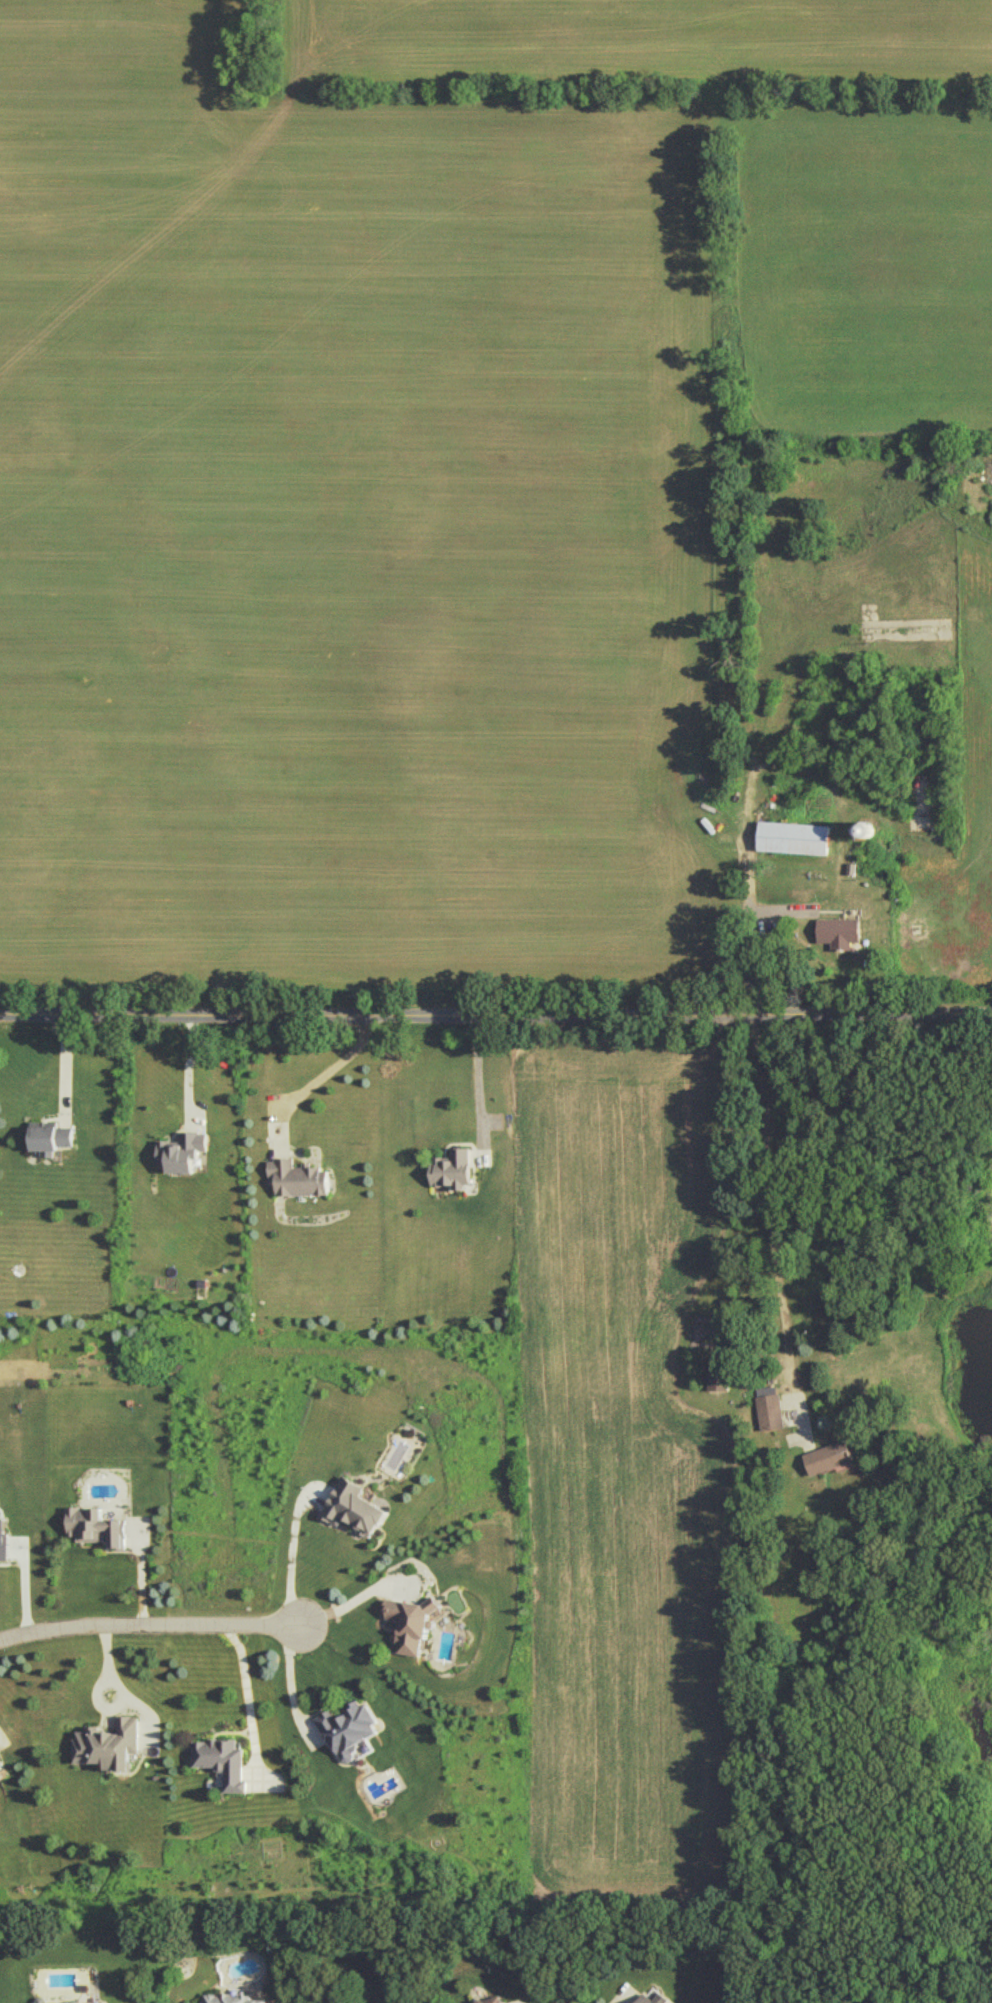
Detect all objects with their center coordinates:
road: (733, 624)
building: (793, 837)
road: (774, 911)
building: (839, 931)
road: (495, 1010)
road: (188, 1066)
road: (488, 1073)
road: (326, 1075)
building: (182, 1151)
building: (453, 1169)
building: (297, 1178)
road: (766, 1200)
building: (718, 1374)
building: (770, 1411)
building: (829, 1457)
building: (354, 1507)
building: (94, 1526)
building: (3, 1539)
road: (300, 1556)
road: (361, 1600)
building: (413, 1622)
road: (150, 1626)
road: (301, 1682)
road: (119, 1690)
road: (256, 1695)
building: (350, 1730)
building: (108, 1744)
building: (223, 1760)
building: (0, 1767)
building: (229, 1998)
building: (643, 1999)
building: (493, 2000)
building: (73, 2002)

